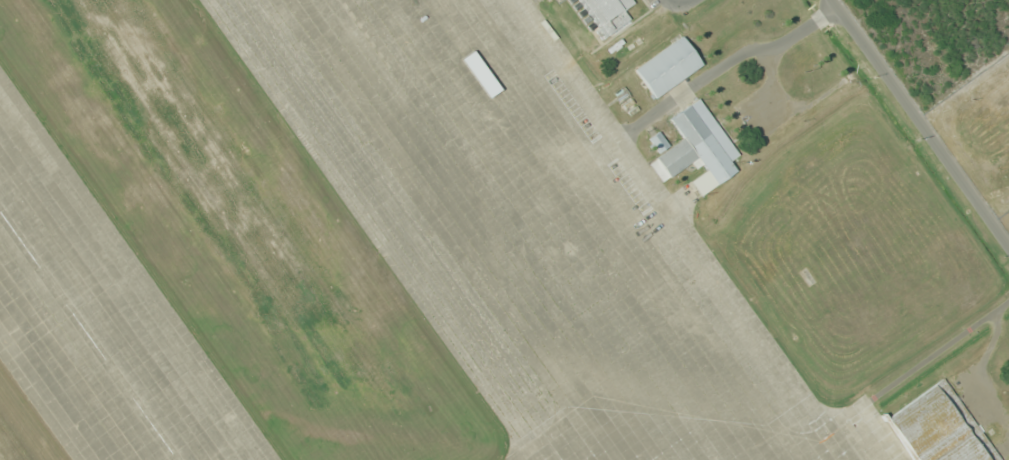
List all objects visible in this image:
building: (608, 13)
road: (766, 59)
building: (667, 68)
road: (963, 85)
road: (921, 122)
road: (780, 135)
building: (697, 149)
airport apron: (520, 230)
road: (1005, 233)
building: (10, 234)
airport: (489, 235)
airport runway: (88, 334)
road: (935, 370)
building: (938, 427)

